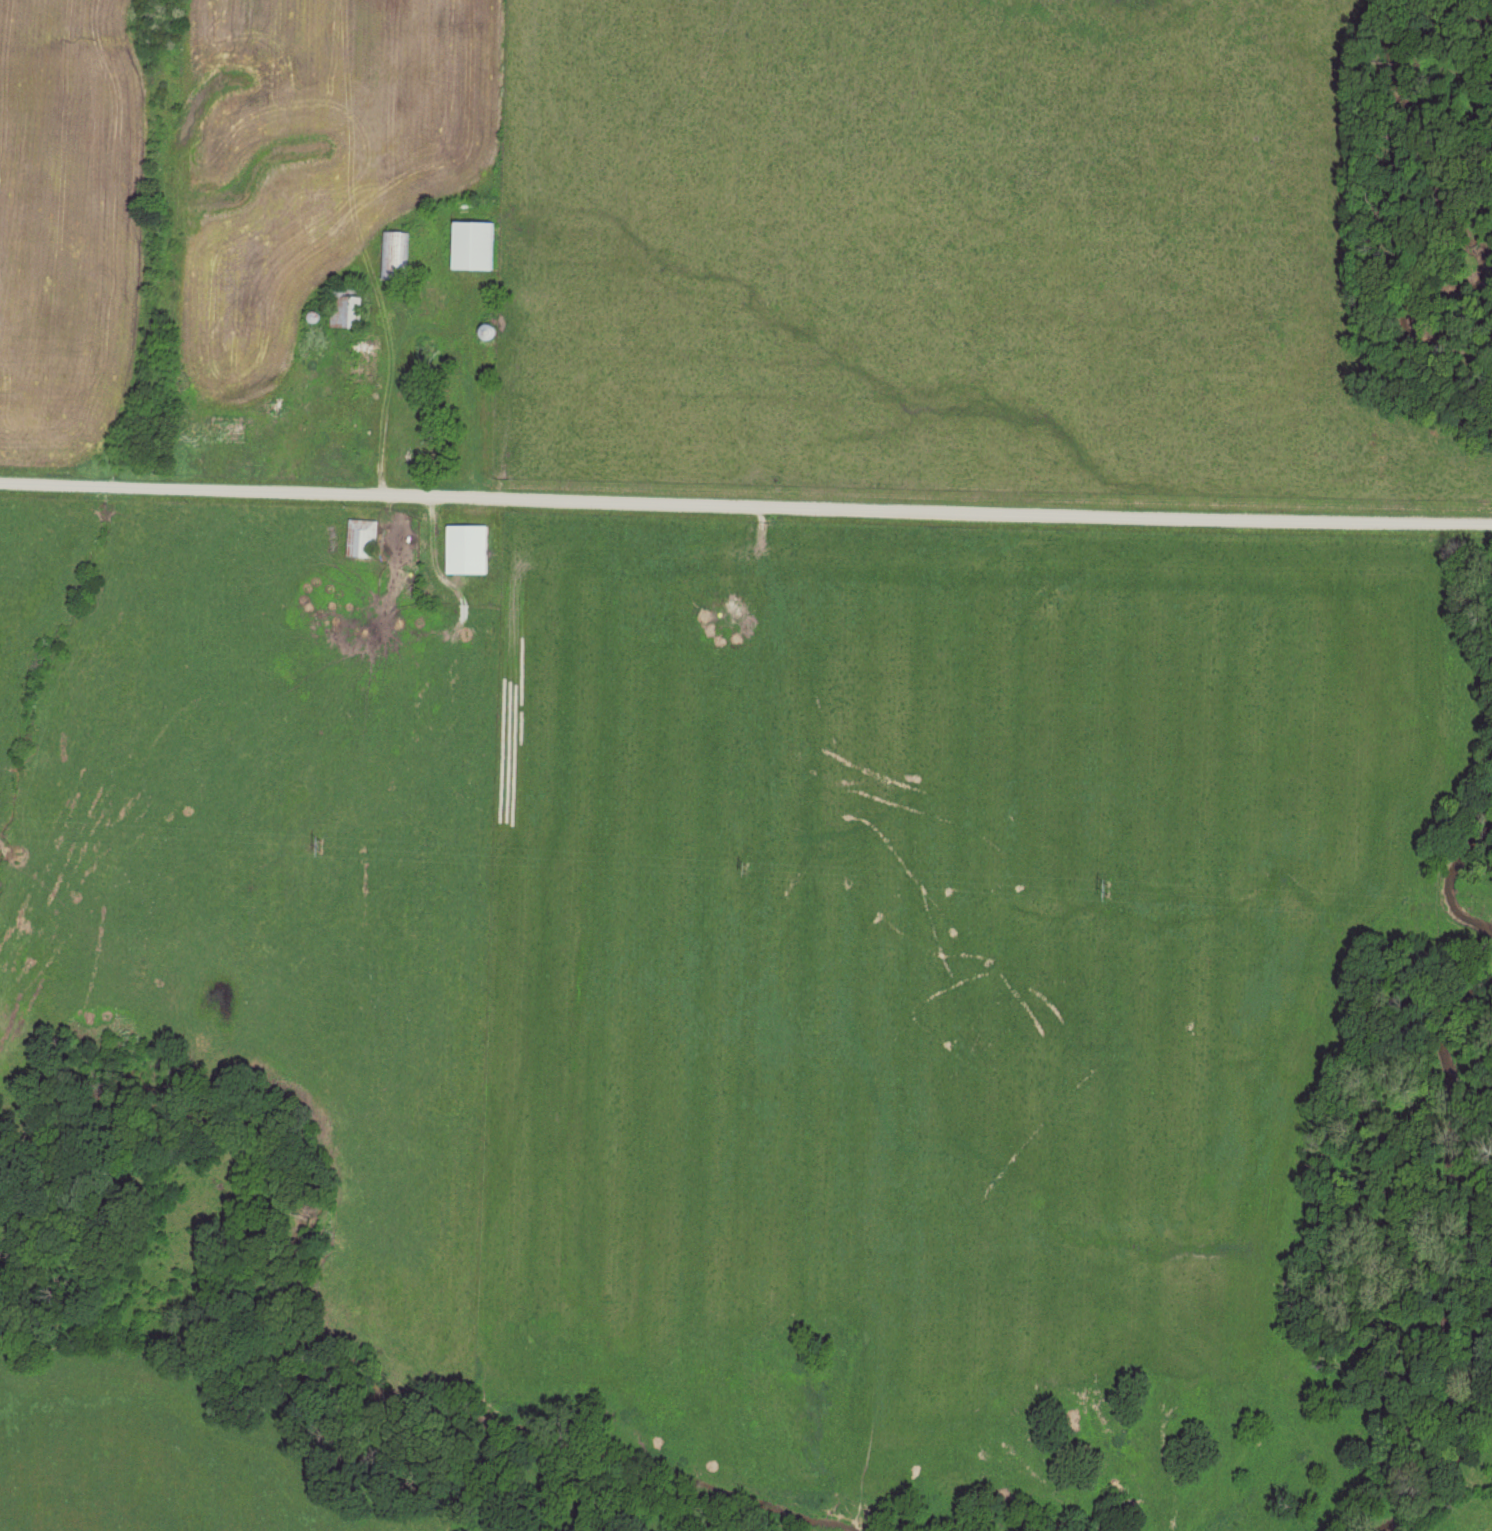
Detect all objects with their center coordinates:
building: (474, 247)
building: (393, 256)
building: (433, 299)
building: (346, 306)
building: (487, 333)
building: (275, 408)
building: (227, 430)
building: (420, 437)
road: (746, 505)
building: (361, 538)
building: (467, 549)

